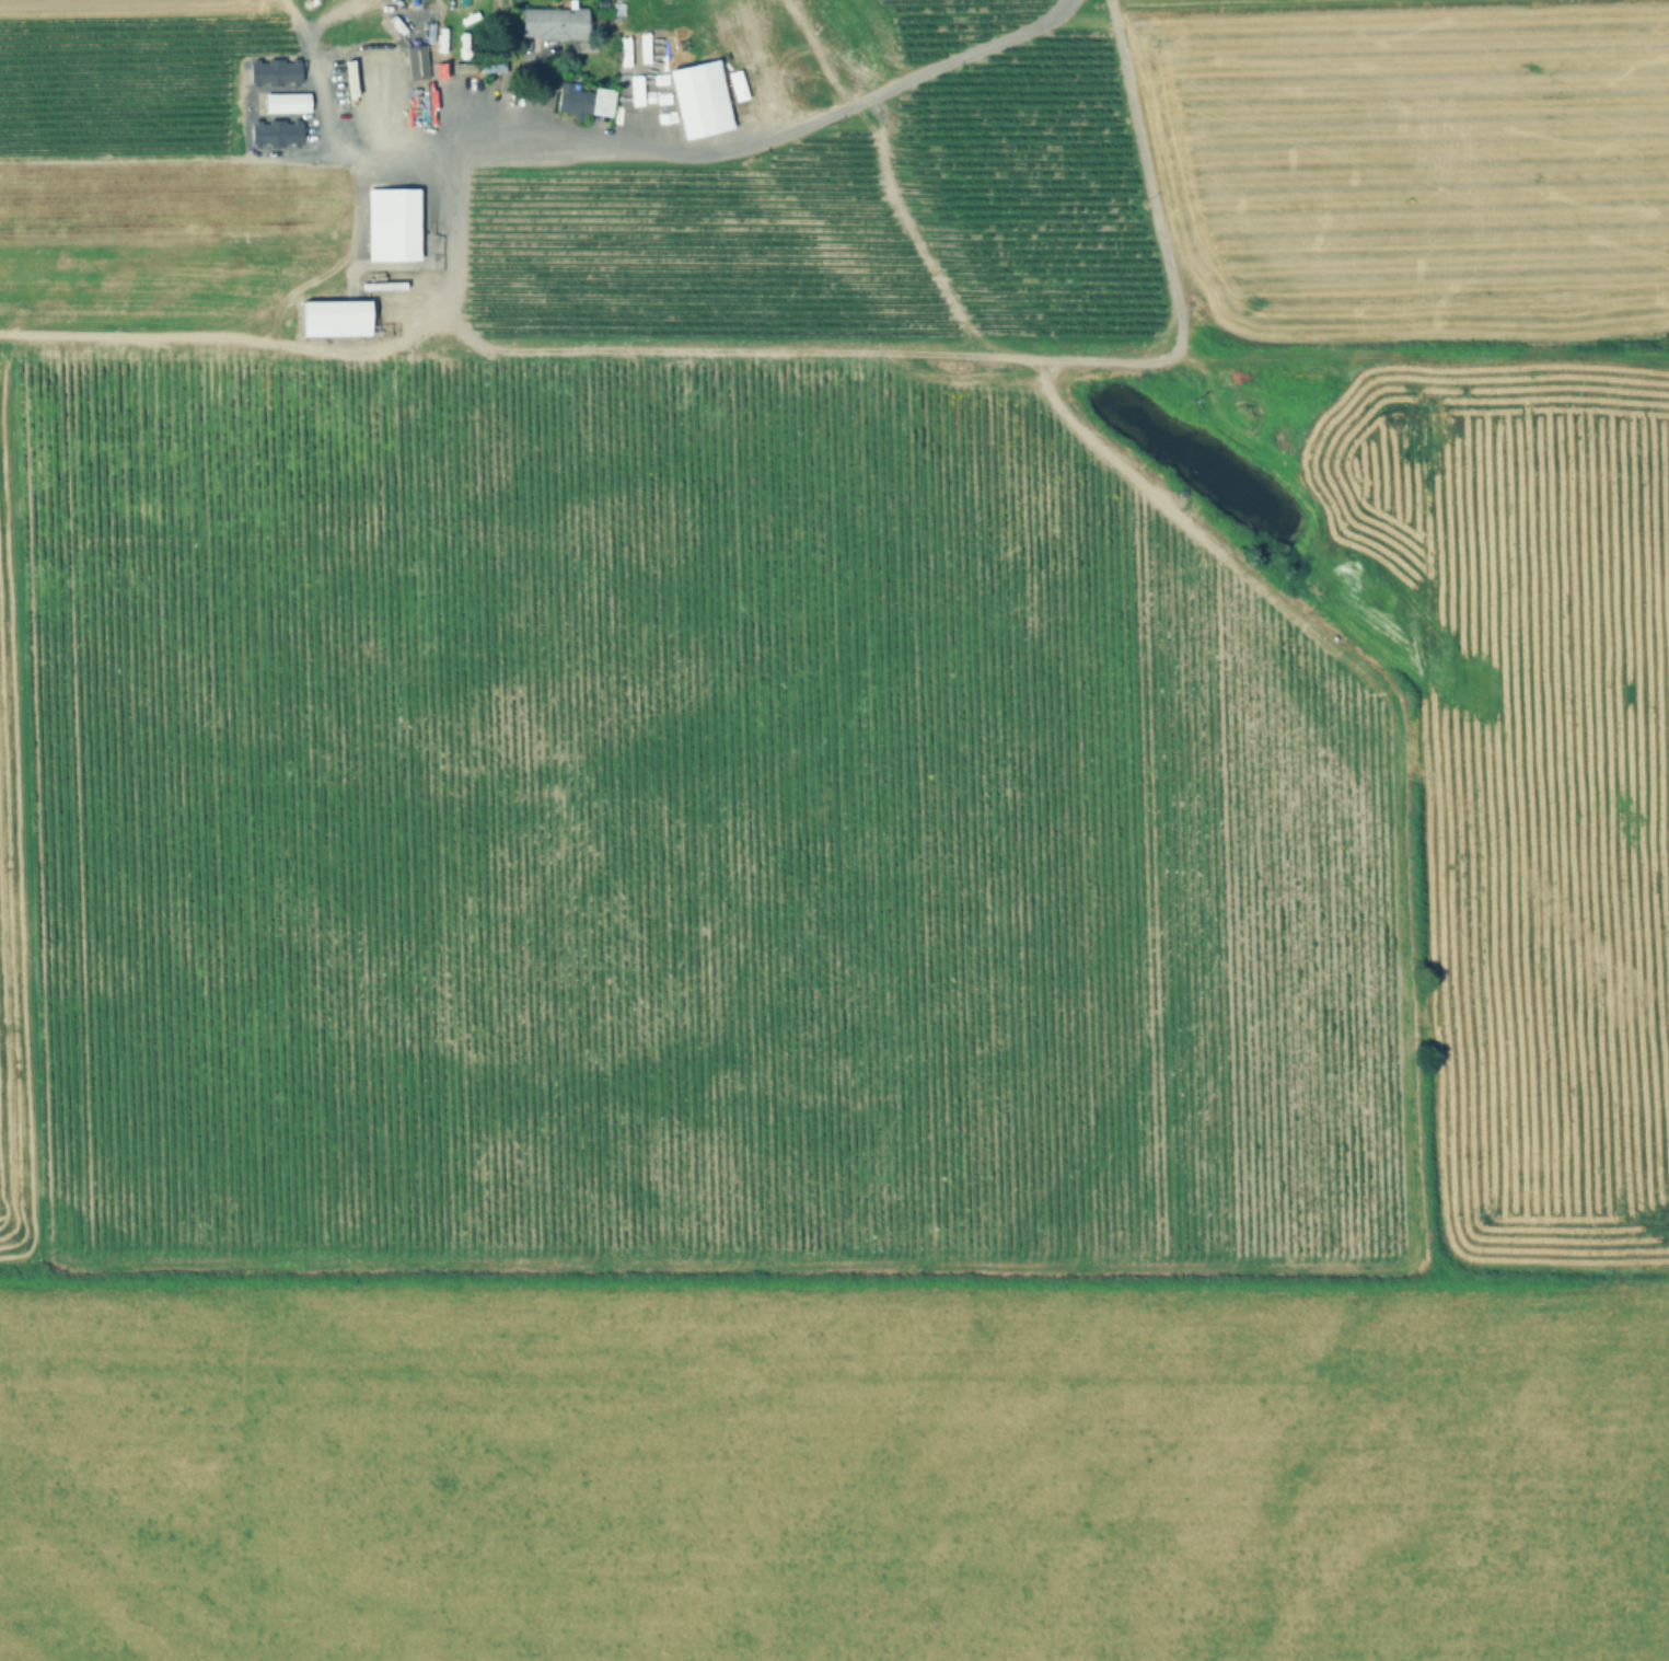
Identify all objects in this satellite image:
building: (549, 23)
building: (363, 34)
building: (363, 60)
building: (414, 62)
building: (477, 69)
building: (269, 71)
building: (373, 89)
building: (582, 101)
building: (686, 101)
building: (287, 102)
building: (374, 117)
building: (418, 120)
building: (271, 132)
road: (769, 136)
building: (376, 145)
road: (341, 158)
building: (387, 224)
building: (328, 312)
crop: (1496, 749)
crop: (761, 839)

